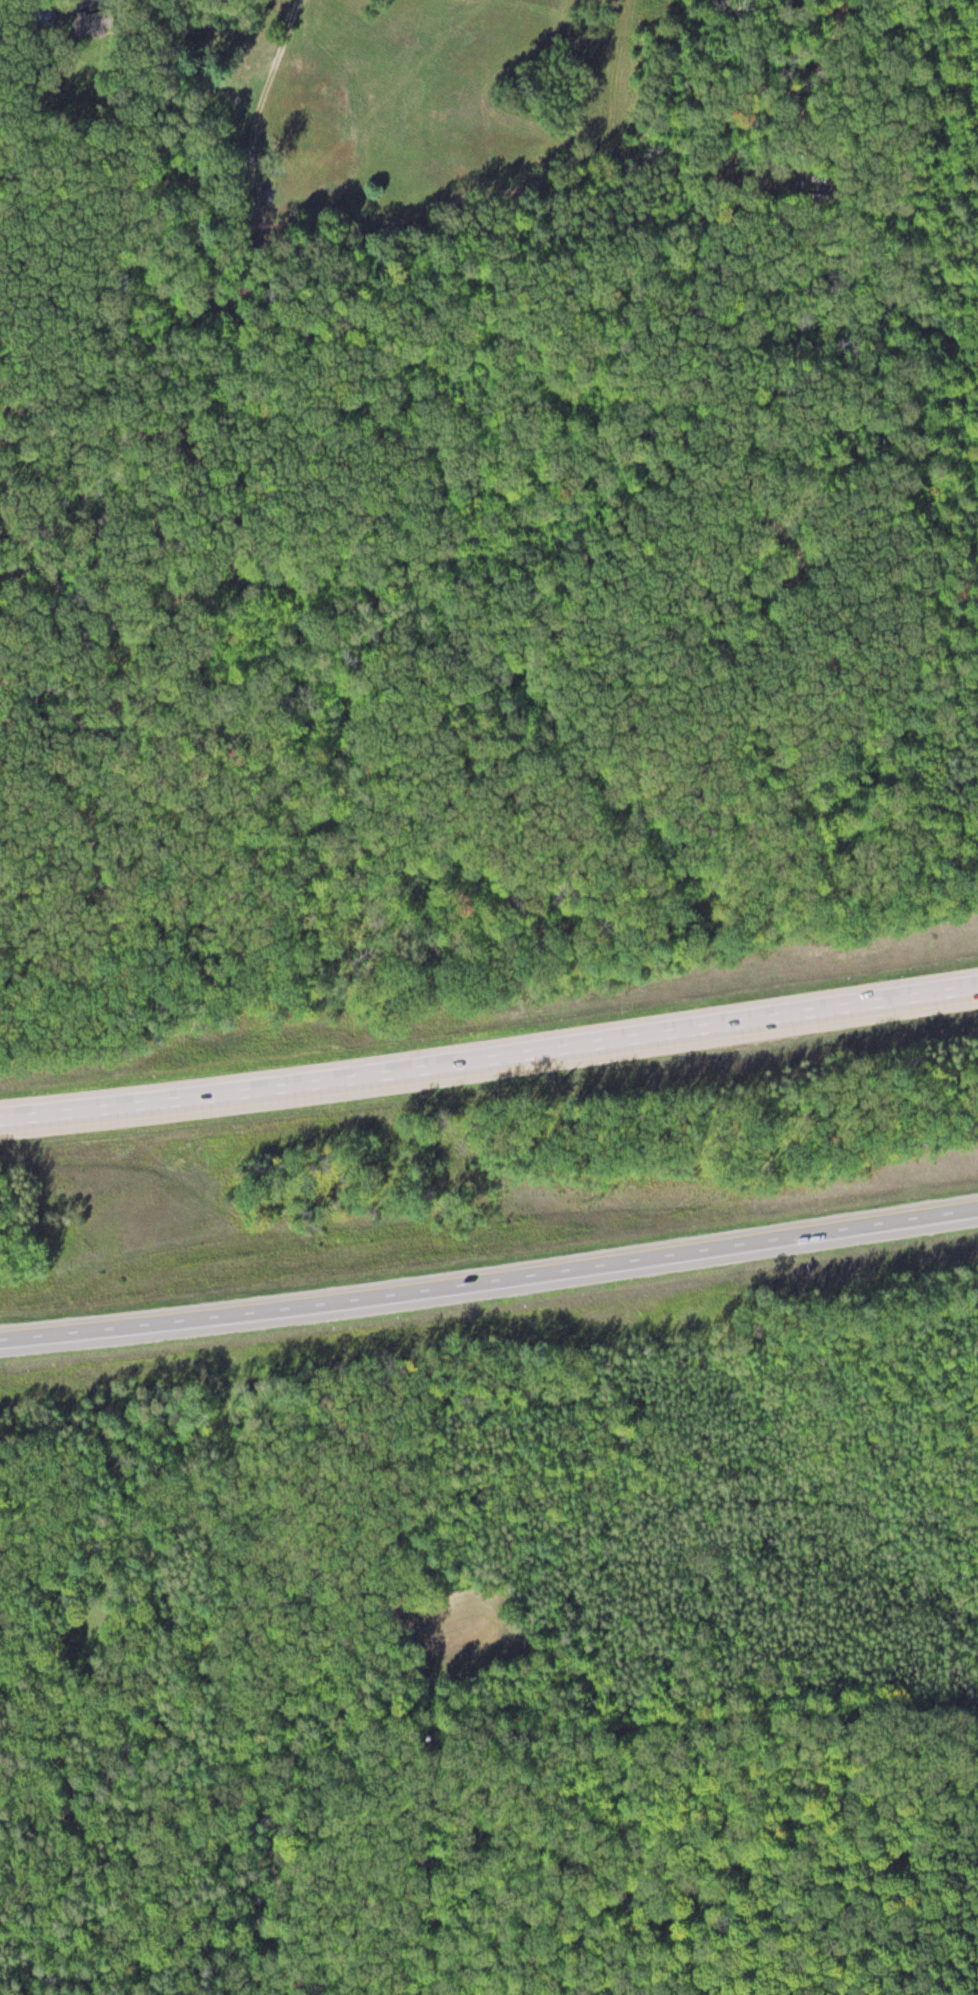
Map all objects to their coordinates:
road: (490, 1057)
road: (489, 1277)

